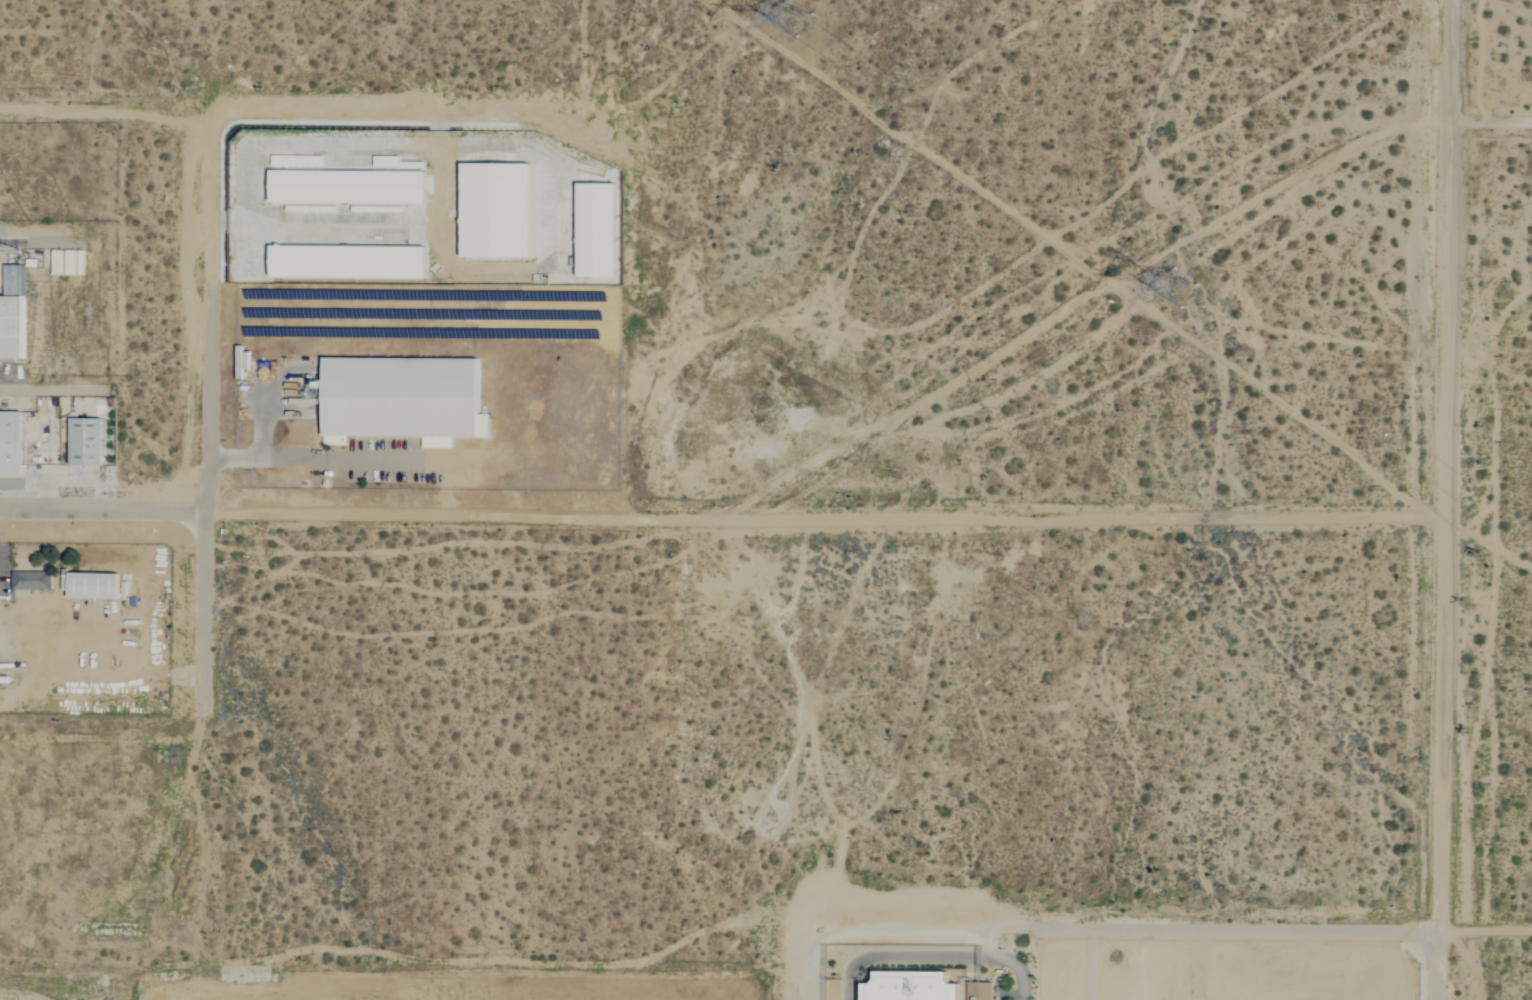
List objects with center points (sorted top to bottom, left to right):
power tower: (786, 14)
road: (722, 118)
road: (1488, 123)
building: (346, 186)
building: (494, 209)
building: (595, 229)
building: (346, 261)
power tower: (1180, 290)
building: (10, 327)
building: (402, 398)
road: (209, 405)
road: (258, 434)
building: (84, 441)
building: (10, 442)
road: (332, 447)
road: (1448, 501)
road: (99, 511)
road: (824, 524)
building: (31, 580)
building: (92, 585)
road: (1308, 947)
road: (926, 957)
road: (1432, 966)
building: (911, 990)

